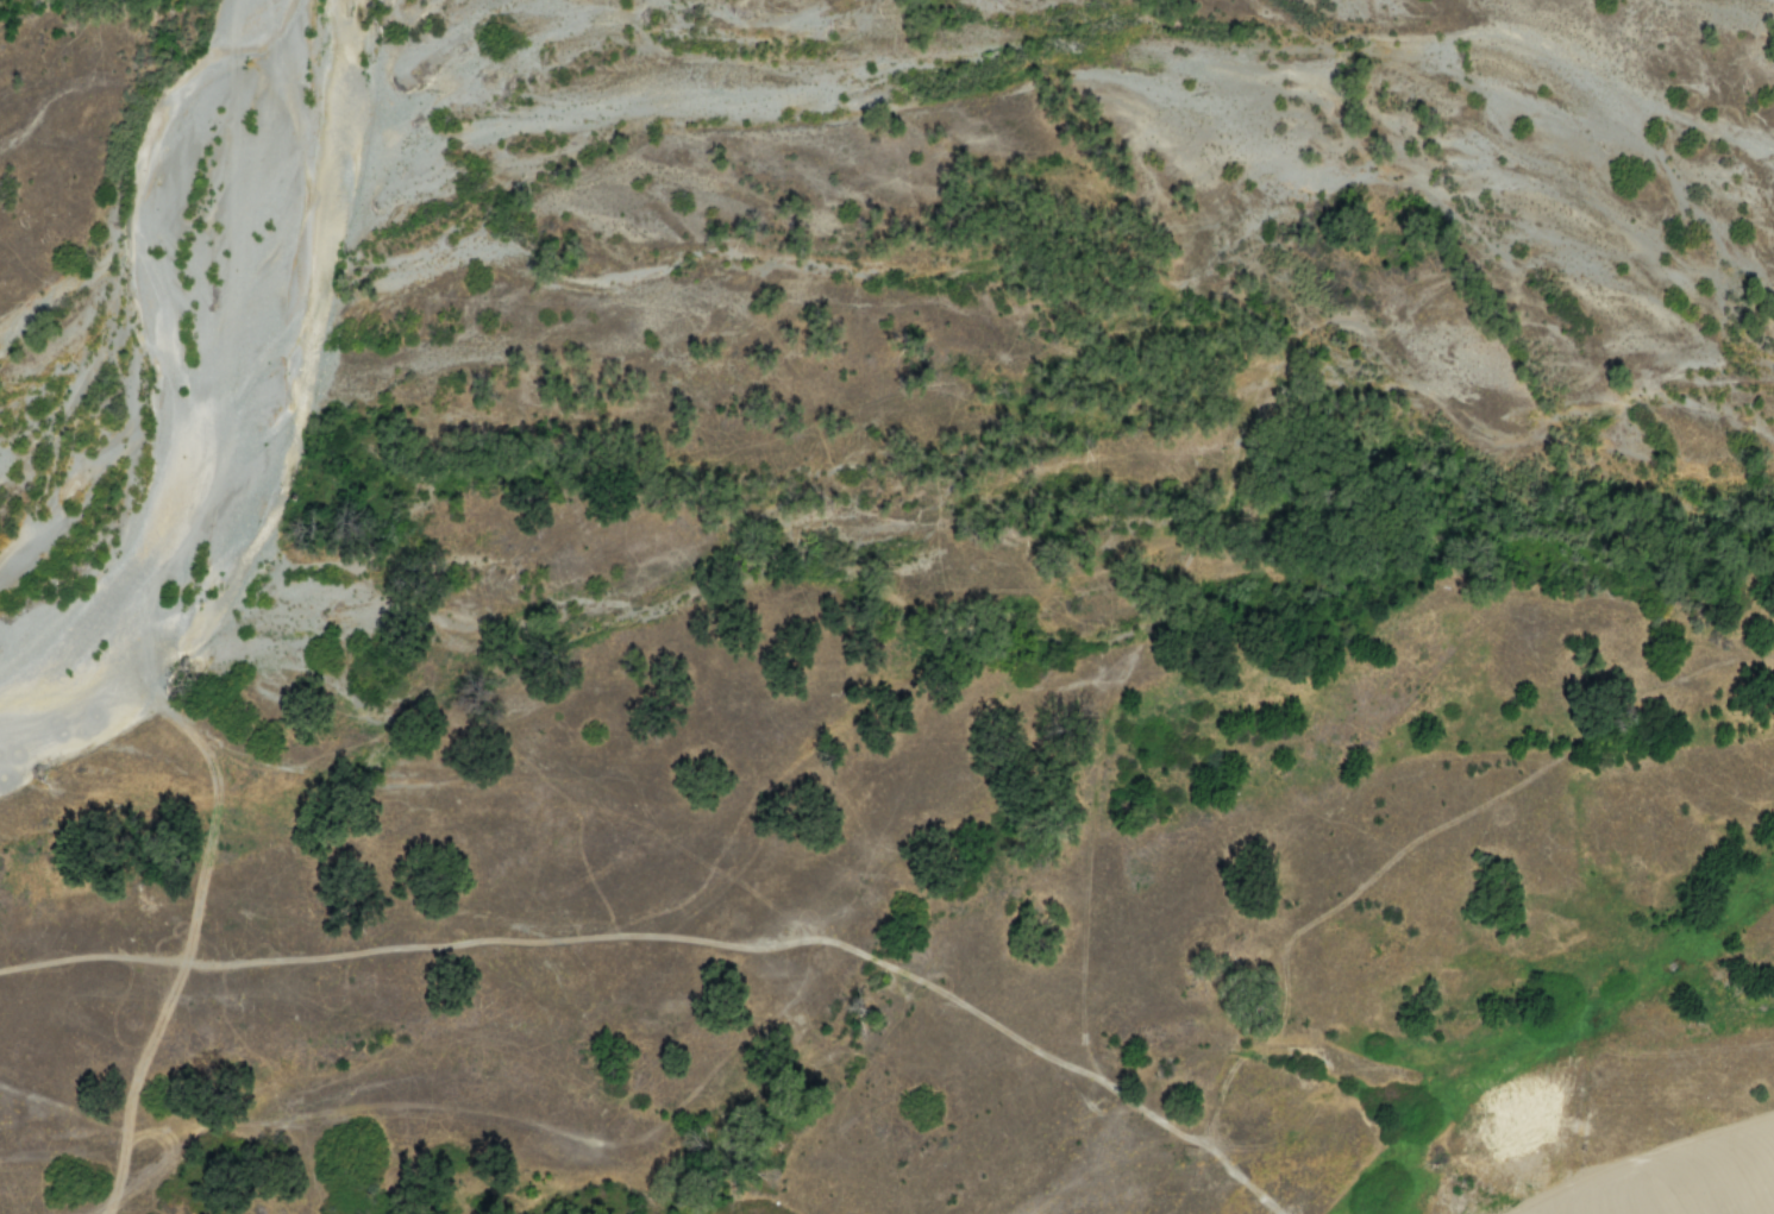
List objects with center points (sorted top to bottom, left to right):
river: (171, 366)

